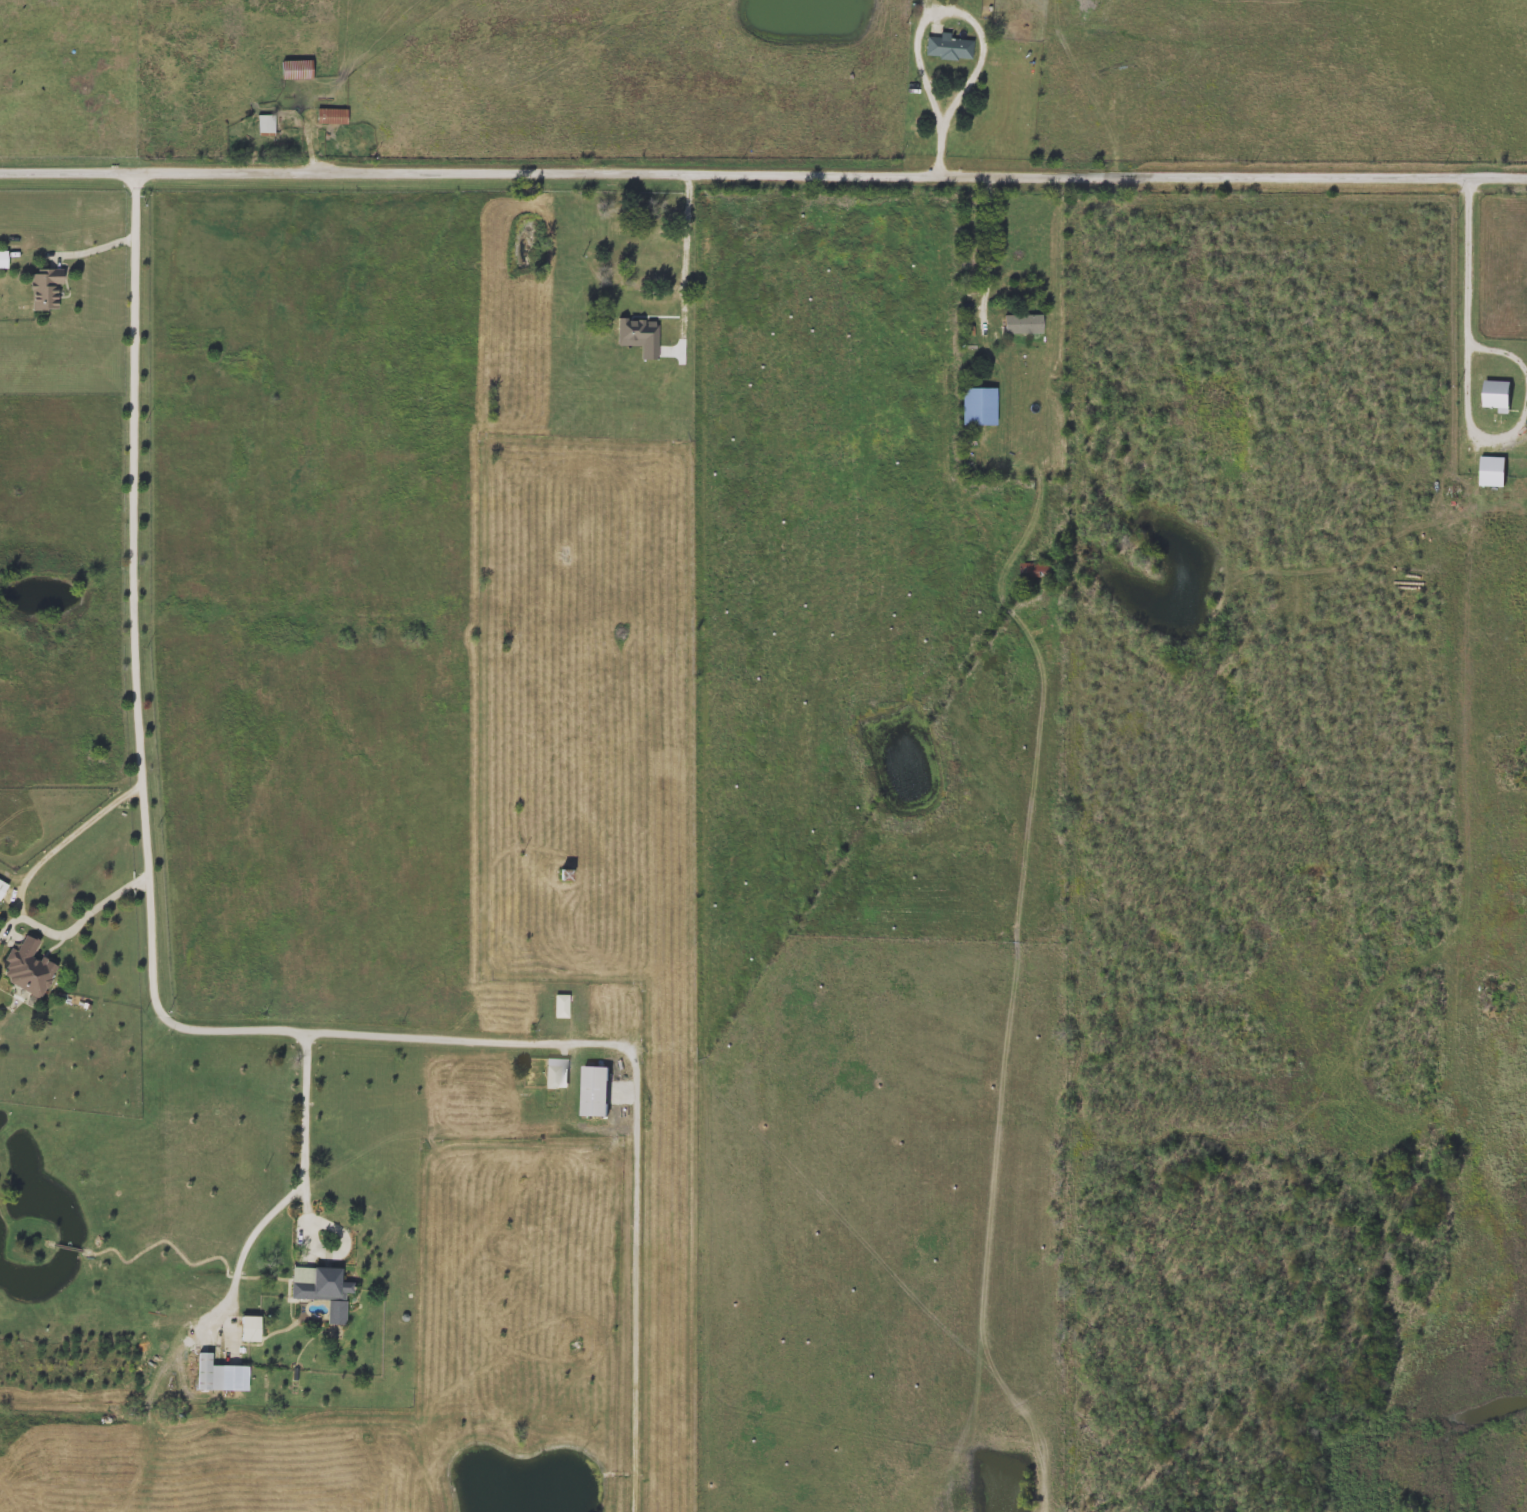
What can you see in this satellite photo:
road: (923, 11)
building: (947, 46)
road: (917, 55)
building: (296, 69)
road: (1085, 85)
building: (331, 115)
building: (266, 123)
road: (940, 146)
road: (763, 172)
road: (986, 245)
road: (90, 247)
building: (4, 258)
building: (650, 261)
road: (1469, 262)
building: (45, 288)
road: (654, 299)
building: (1050, 328)
road: (1504, 351)
building: (1495, 395)
building: (978, 405)
road: (1476, 424)
building: (1037, 570)
road: (143, 770)
road: (1030, 831)
building: (2, 887)
road: (16, 892)
building: (28, 967)
building: (562, 1005)
road: (455, 1038)
building: (553, 1076)
building: (593, 1091)
road: (254, 1232)
road: (636, 1273)
building: (249, 1327)
building: (218, 1373)

